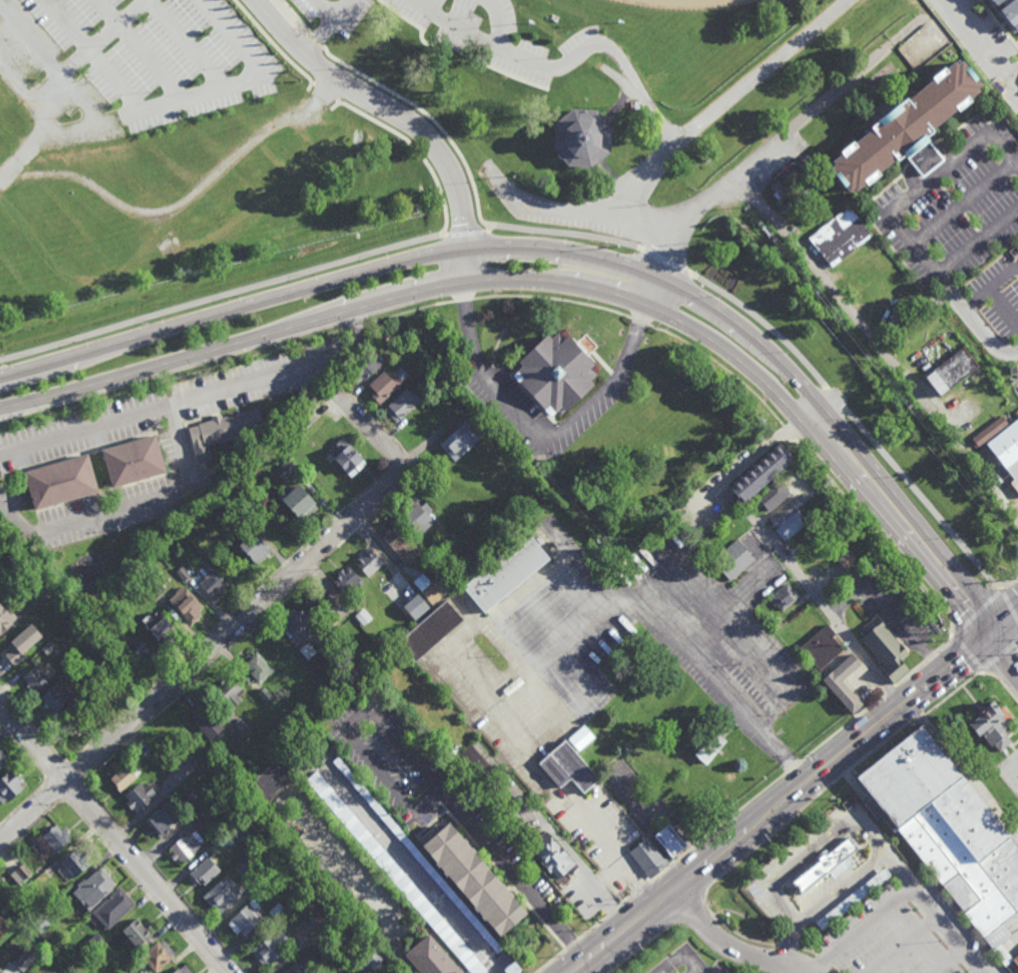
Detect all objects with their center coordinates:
track: (688, 3)
road: (325, 10)
building: (1010, 12)
parking lot: (335, 14)
road: (497, 23)
road: (327, 27)
parking lot: (496, 36)
road: (984, 42)
road: (455, 48)
road: (565, 62)
parking lot: (129, 64)
road: (1014, 73)
road: (51, 79)
road: (16, 87)
road: (408, 88)
road: (402, 118)
building: (904, 129)
building: (578, 140)
road: (674, 147)
road: (1002, 155)
road: (939, 174)
building: (792, 181)
road: (704, 197)
road: (547, 209)
building: (809, 213)
road: (938, 225)
road: (456, 226)
road: (904, 228)
building: (839, 237)
road: (978, 242)
road: (991, 288)
road: (297, 292)
road: (216, 294)
road: (553, 299)
road: (463, 300)
road: (1003, 309)
road: (409, 311)
road: (321, 322)
road: (640, 322)
road: (354, 325)
road: (982, 330)
road: (782, 340)
building: (403, 343)
road: (887, 358)
building: (366, 367)
building: (554, 369)
building: (435, 371)
building: (956, 373)
road: (171, 378)
building: (386, 384)
road: (193, 397)
road: (340, 397)
building: (402, 404)
road: (825, 409)
building: (482, 421)
building: (226, 425)
road: (373, 428)
building: (988, 431)
road: (542, 436)
building: (269, 442)
building: (459, 442)
building: (1007, 449)
road: (830, 456)
building: (132, 459)
building: (349, 459)
road: (742, 463)
road: (817, 464)
building: (797, 466)
building: (286, 468)
building: (759, 471)
building: (60, 479)
building: (819, 495)
building: (770, 497)
building: (300, 504)
road: (129, 508)
building: (785, 512)
building: (231, 515)
building: (417, 520)
building: (732, 524)
building: (791, 526)
building: (445, 532)
building: (401, 546)
building: (255, 549)
building: (421, 557)
building: (733, 560)
building: (847, 562)
building: (369, 563)
building: (182, 572)
building: (506, 574)
building: (126, 575)
building: (41, 580)
building: (347, 580)
building: (211, 581)
road: (264, 581)
road: (1010, 583)
building: (431, 586)
building: (155, 588)
road: (290, 589)
building: (57, 598)
building: (784, 598)
building: (185, 604)
road: (1010, 604)
building: (320, 605)
building: (413, 606)
road: (825, 607)
building: (64, 608)
road: (887, 612)
road: (977, 613)
building: (363, 615)
building: (5, 620)
road: (1005, 621)
building: (299, 625)
building: (330, 626)
building: (160, 627)
building: (430, 630)
traffic signals: (993, 631)
road: (680, 635)
building: (21, 645)
road: (1005, 646)
building: (49, 647)
building: (821, 648)
building: (885, 649)
building: (307, 650)
building: (135, 651)
road: (204, 653)
road: (966, 653)
road: (999, 656)
road: (925, 662)
building: (256, 671)
building: (36, 680)
road: (1001, 684)
building: (843, 685)
building: (512, 686)
building: (87, 687)
road: (891, 690)
building: (230, 693)
building: (265, 694)
building: (55, 697)
road: (32, 723)
building: (209, 723)
building: (75, 725)
building: (992, 725)
road: (843, 727)
building: (241, 728)
building: (580, 738)
building: (709, 747)
building: (454, 750)
road: (23, 751)
building: (2, 760)
road: (419, 765)
building: (478, 766)
building: (567, 767)
road: (792, 767)
road: (55, 769)
road: (75, 774)
building: (125, 778)
road: (835, 780)
building: (270, 782)
building: (8, 788)
road: (55, 790)
road: (75, 794)
building: (140, 797)
road: (24, 803)
road: (782, 803)
road: (742, 808)
road: (860, 817)
building: (164, 820)
road: (31, 826)
building: (238, 830)
road: (838, 834)
building: (948, 834)
building: (57, 838)
road: (114, 839)
building: (671, 841)
road: (694, 845)
building: (186, 848)
building: (552, 855)
road: (616, 855)
building: (649, 858)
building: (76, 863)
road: (671, 865)
building: (821, 871)
road: (898, 871)
building: (205, 872)
building: (394, 872)
building: (20, 874)
road: (164, 880)
building: (474, 881)
road: (687, 882)
road: (643, 886)
road: (138, 887)
building: (94, 889)
building: (223, 895)
road: (629, 897)
road: (606, 900)
building: (853, 900)
building: (114, 908)
building: (336, 908)
road: (615, 908)
building: (276, 911)
road: (691, 911)
building: (246, 920)
building: (40, 924)
road: (593, 926)
building: (3, 927)
road: (864, 930)
road: (950, 930)
road: (734, 931)
building: (137, 934)
parking lot: (902, 936)
road: (719, 942)
building: (93, 943)
road: (572, 943)
road: (787, 945)
road: (905, 945)
road: (645, 946)
road: (787, 946)
building: (271, 949)
road: (808, 951)
building: (132, 956)
building: (156, 957)
road: (684, 958)
building: (26, 959)
building: (431, 959)
road: (950, 960)
road: (550, 961)
road: (816, 964)
building: (117, 968)
building: (298, 968)
building: (512, 968)
building: (183, 970)
building: (0, 972)

